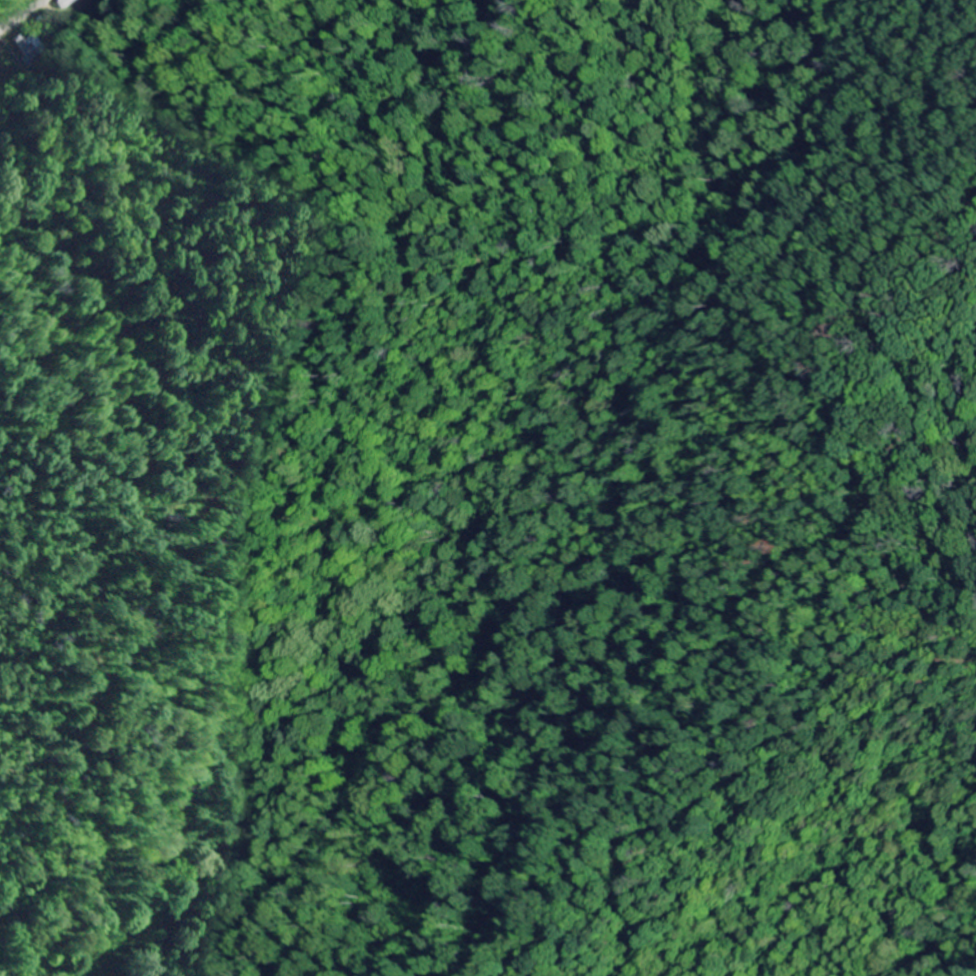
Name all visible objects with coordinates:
road: (22, 14)

